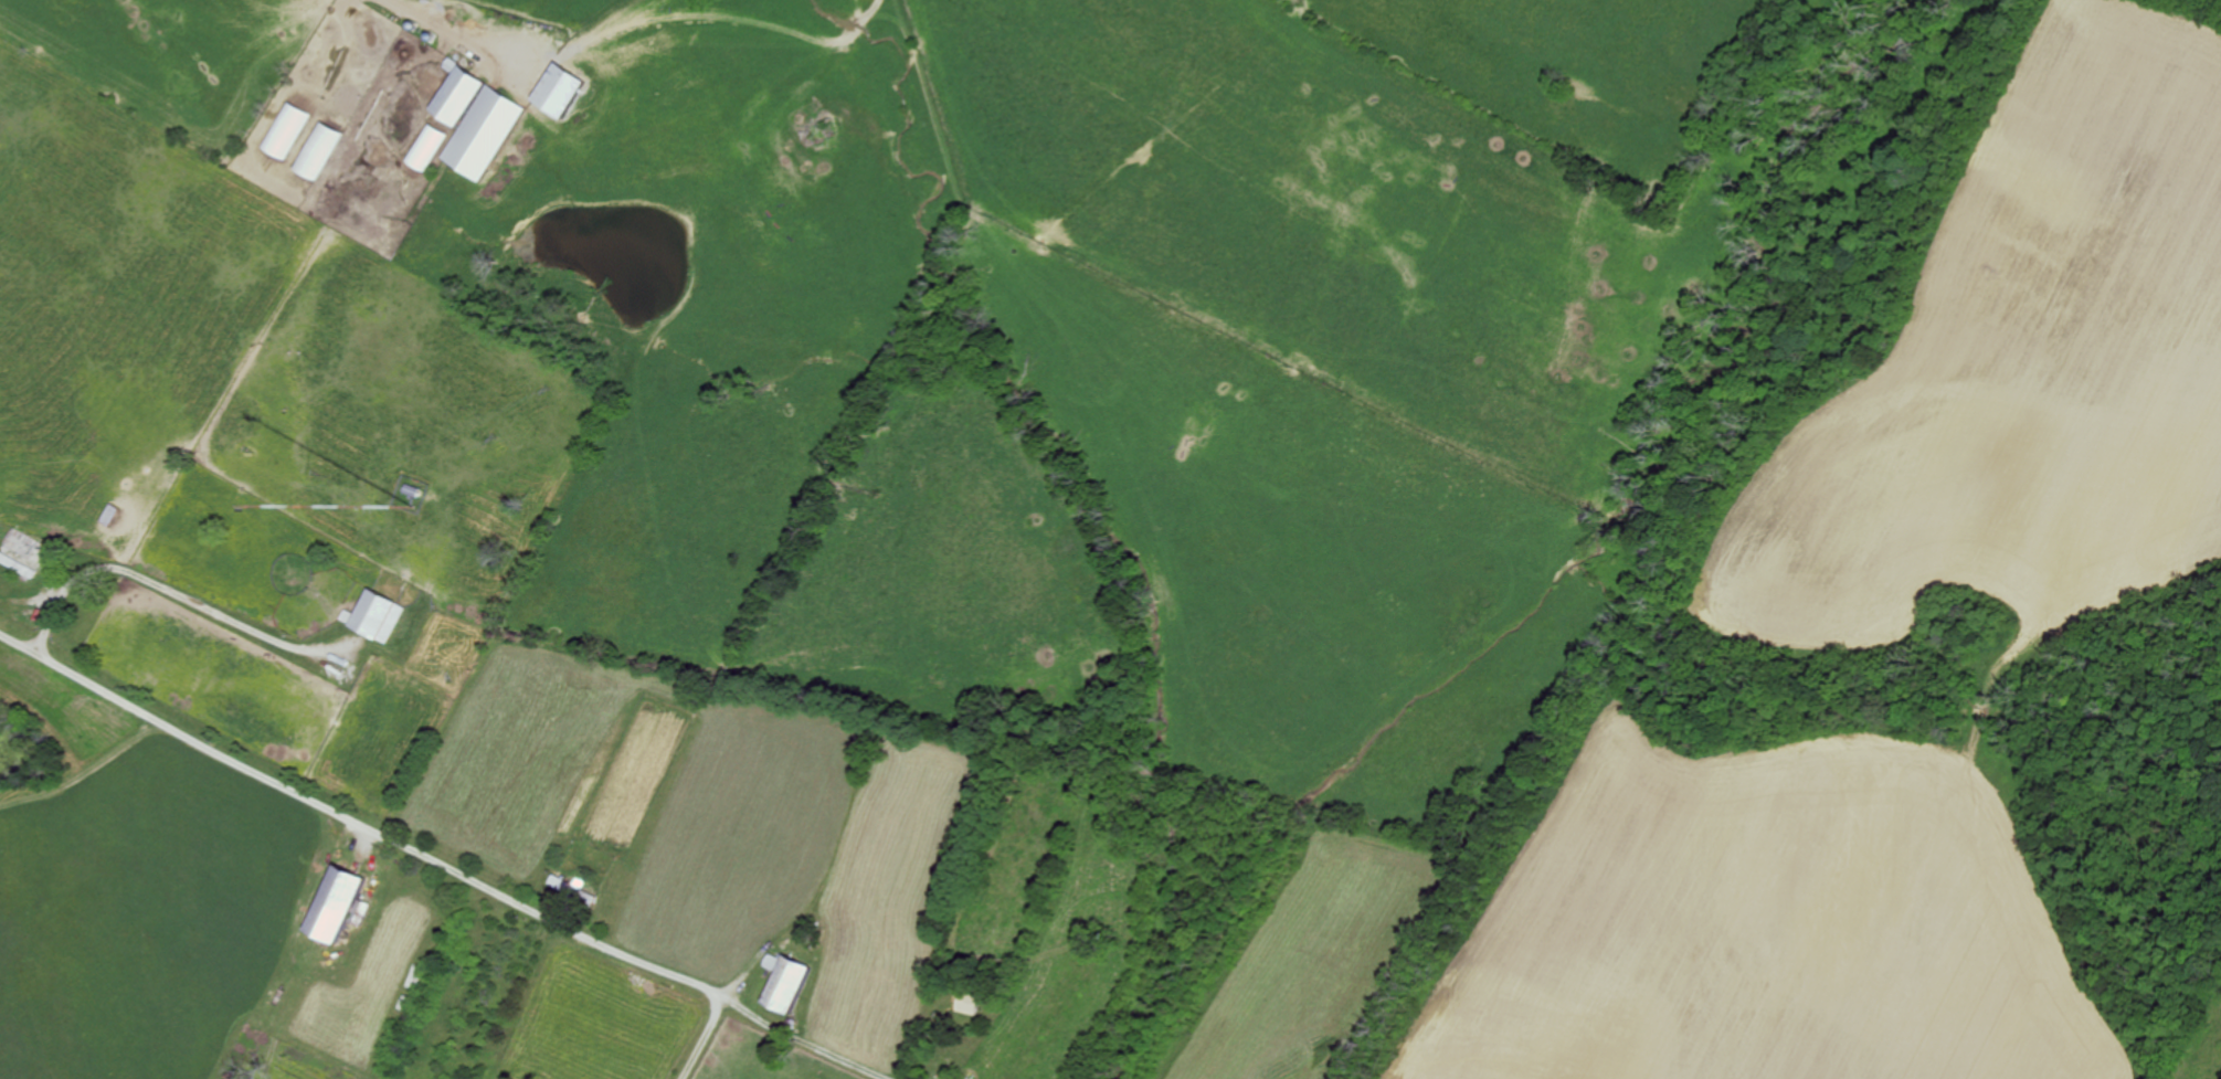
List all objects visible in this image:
road: (446, 23)
building: (569, 91)
building: (461, 93)
building: (288, 129)
building: (432, 146)
building: (322, 149)
building: (113, 512)
building: (24, 549)
road: (176, 589)
building: (380, 614)
road: (355, 821)
building: (577, 889)
building: (340, 906)
building: (787, 982)
building: (970, 1003)
road: (705, 1037)

